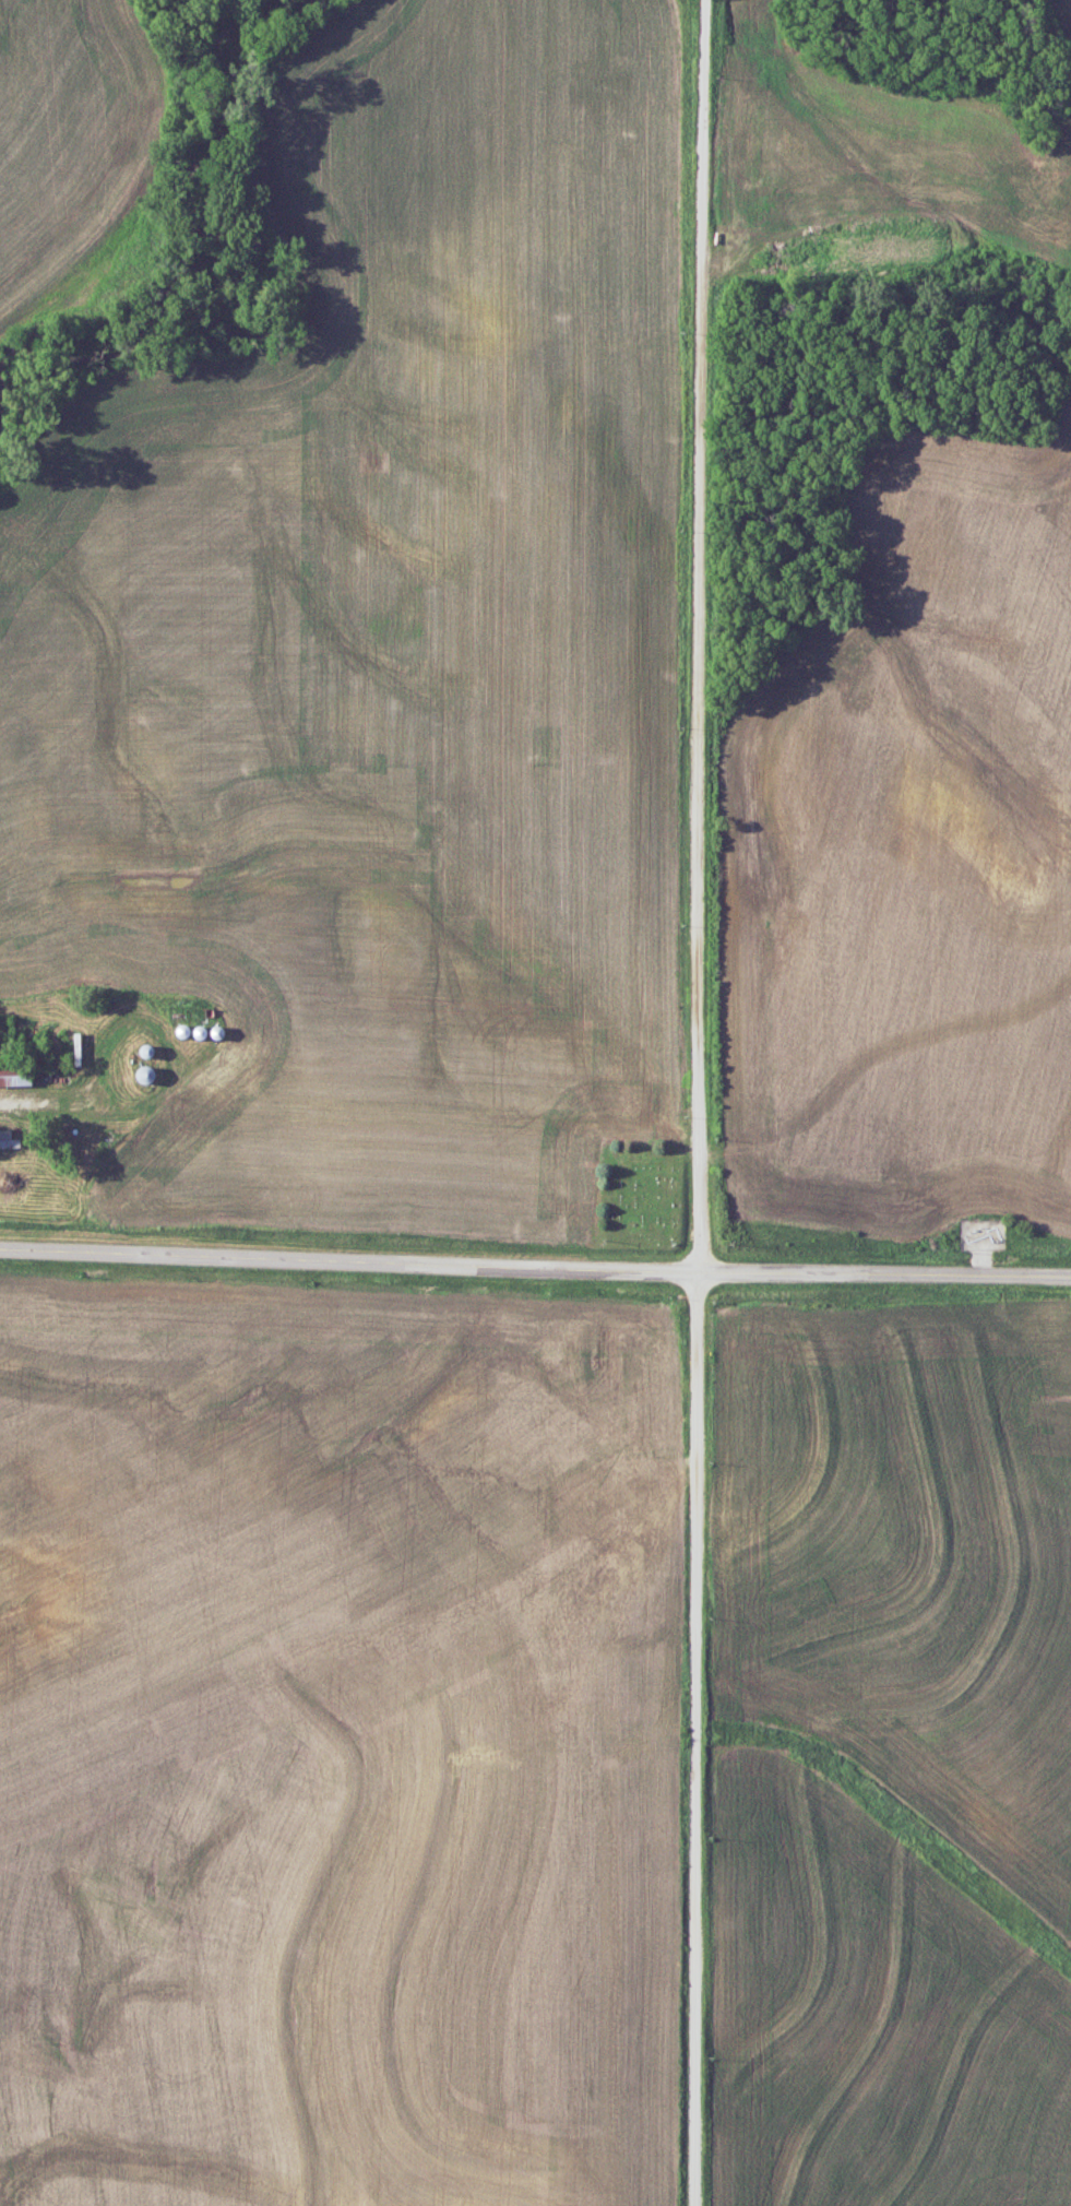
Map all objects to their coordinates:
building: (140, 1072)
building: (12, 1074)
road: (700, 1102)
building: (7, 1138)
park: (642, 1194)
road: (535, 1267)

